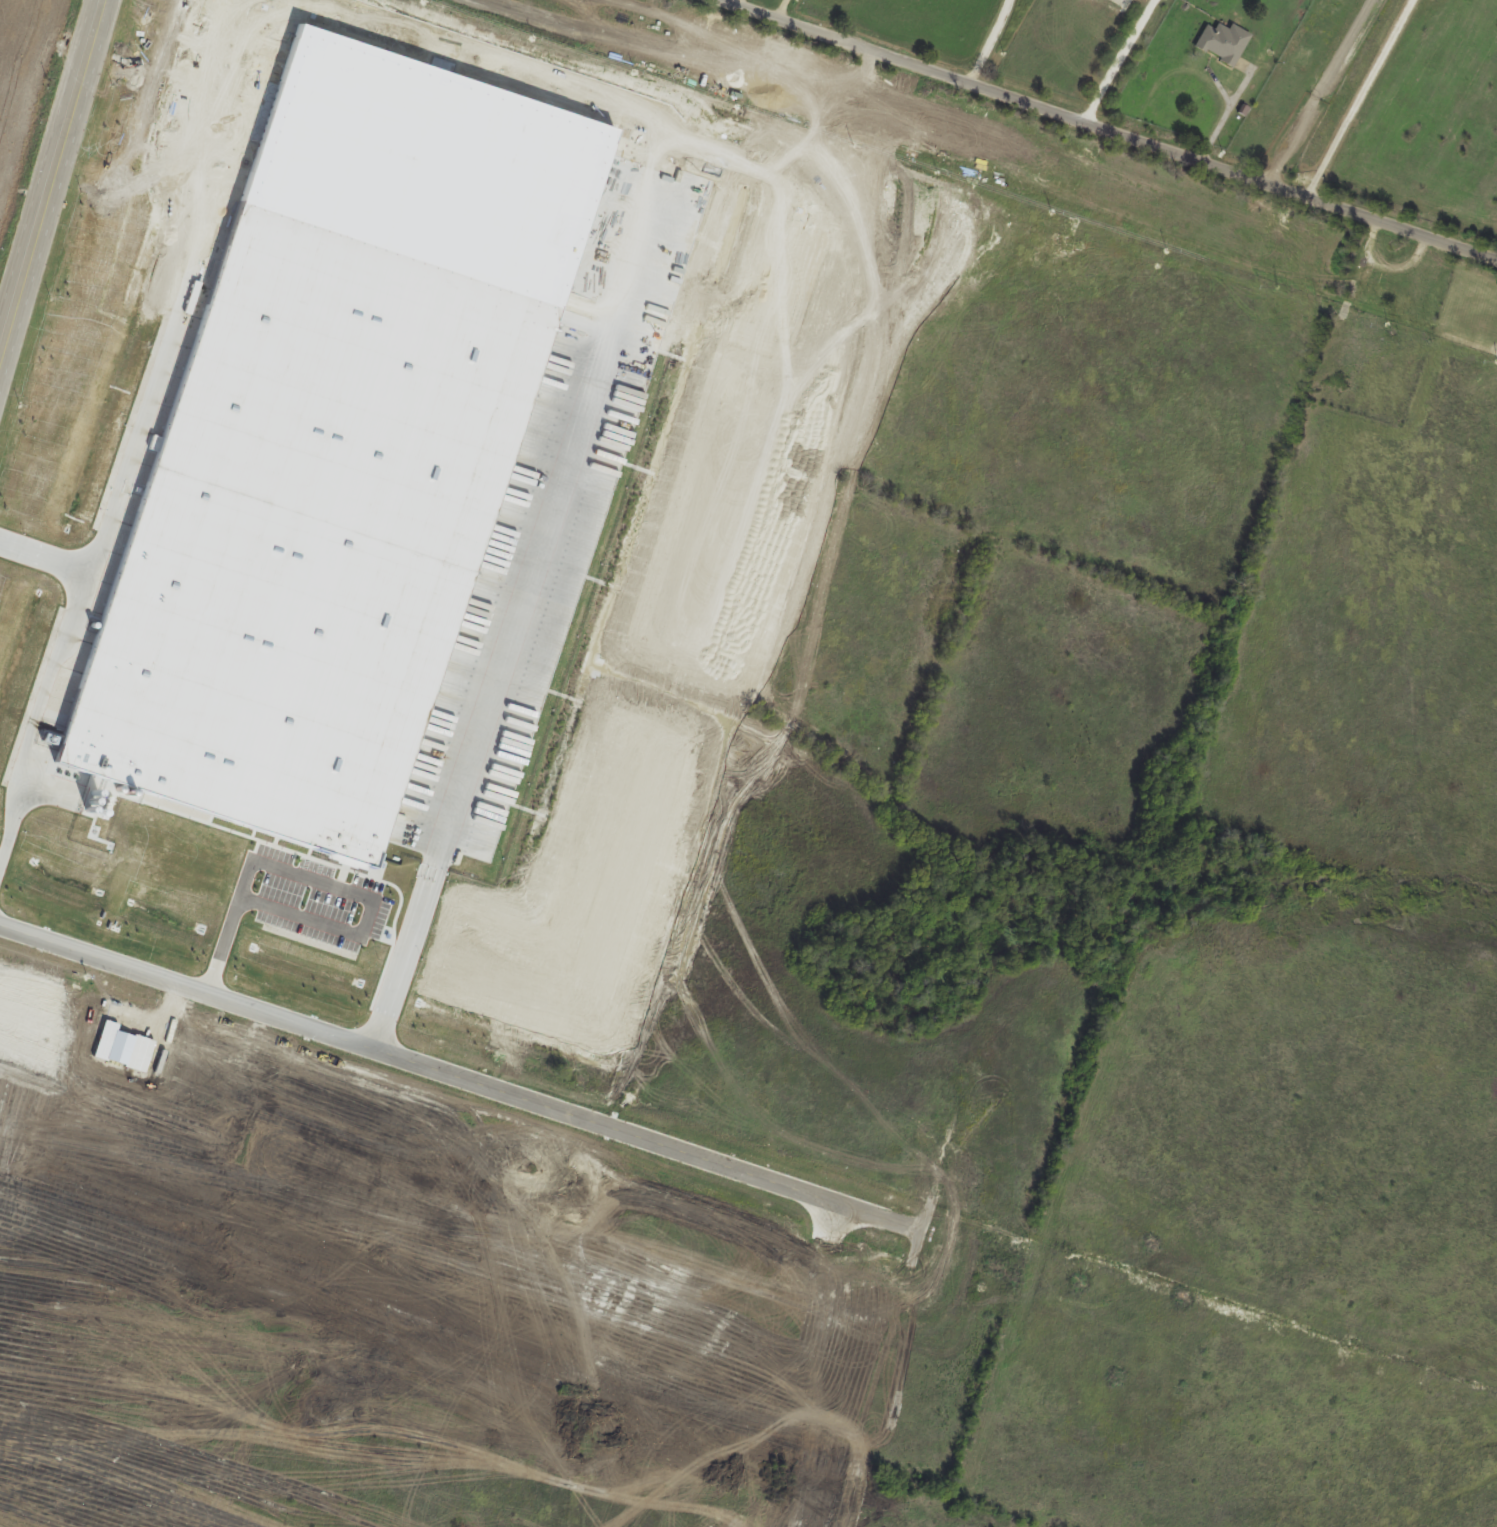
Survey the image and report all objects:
road: (739, 3)
road: (781, 9)
building: (1223, 42)
road: (1002, 44)
road: (1115, 62)
road: (1319, 93)
road: (1356, 97)
road: (1108, 132)
road: (49, 171)
road: (565, 475)
road: (52, 676)
road: (323, 881)
road: (642, 1138)

